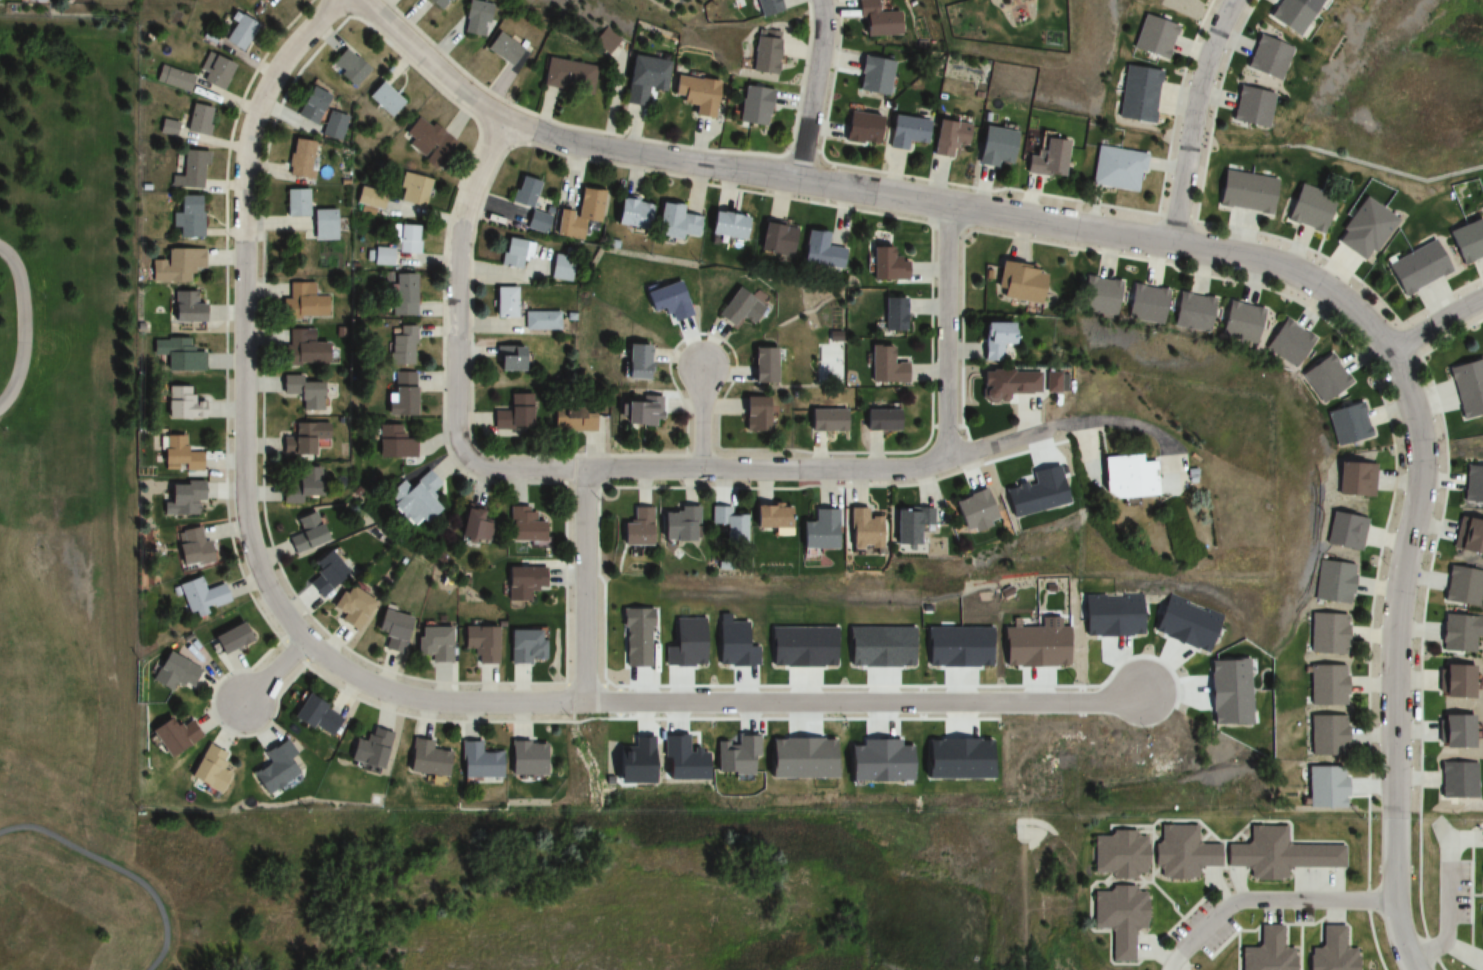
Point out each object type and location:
building: (36, 0)
building: (437, 4)
building: (764, 7)
building: (1291, 15)
building: (474, 19)
building: (874, 21)
building: (237, 33)
building: (1153, 38)
building: (502, 49)
building: (762, 54)
building: (1265, 59)
road: (431, 64)
building: (348, 68)
building: (212, 73)
building: (567, 77)
building: (872, 77)
building: (172, 79)
building: (642, 80)
road: (811, 89)
building: (693, 95)
building: (1137, 95)
building: (383, 100)
building: (310, 107)
building: (751, 107)
building: (1250, 108)
road: (1191, 118)
building: (197, 121)
building: (332, 126)
building: (167, 128)
building: (860, 130)
building: (905, 133)
building: (947, 138)
building: (428, 143)
building: (993, 148)
building: (299, 160)
building: (1045, 160)
building: (1116, 170)
building: (188, 171)
road: (785, 176)
building: (412, 190)
building: (524, 192)
building: (1245, 193)
building: (294, 203)
building: (1309, 209)
building: (631, 212)
building: (579, 214)
building: (186, 218)
building: (675, 222)
building: (726, 224)
building: (321, 225)
building: (1363, 230)
building: (774, 238)
building: (1466, 243)
building: (396, 245)
building: (819, 251)
building: (510, 252)
building: (885, 261)
building: (175, 266)
building: (1416, 269)
building: (1018, 282)
building: (401, 294)
building: (1101, 296)
building: (296, 301)
building: (667, 301)
building: (502, 302)
building: (1147, 303)
building: (183, 306)
building: (738, 308)
building: (1193, 312)
building: (891, 314)
building: (540, 320)
building: (1241, 322)
road: (26, 324)
road: (1436, 324)
road: (946, 330)
building: (990, 340)
building: (1289, 343)
building: (400, 346)
building: (303, 348)
building: (177, 355)
building: (507, 358)
building: (632, 360)
building: (762, 364)
building: (883, 366)
building: (1325, 378)
building: (1046, 383)
building: (1007, 384)
building: (1468, 387)
building: (400, 393)
building: (301, 394)
building: (182, 404)
park: (64, 408)
building: (639, 410)
building: (513, 413)
building: (754, 414)
building: (572, 419)
road: (701, 419)
building: (877, 419)
building: (824, 420)
building: (1349, 425)
road: (1136, 427)
road: (1022, 434)
building: (302, 438)
building: (392, 442)
building: (181, 454)
road: (532, 470)
building: (1123, 477)
building: (1354, 480)
road: (1421, 481)
building: (301, 483)
building: (1473, 484)
building: (180, 498)
building: (415, 498)
building: (969, 509)
building: (766, 516)
building: (473, 523)
building: (676, 523)
building: (726, 523)
building: (522, 525)
building: (899, 526)
building: (635, 528)
building: (859, 528)
building: (814, 530)
building: (1340, 530)
building: (304, 534)
building: (1469, 536)
building: (190, 547)
building: (323, 573)
building: (1332, 581)
building: (522, 582)
road: (585, 585)
building: (1463, 586)
building: (199, 595)
building: (351, 607)
building: (391, 630)
building: (1459, 632)
building: (1326, 633)
building: (226, 638)
building: (433, 643)
building: (479, 643)
building: (524, 646)
building: (173, 672)
road: (272, 672)
building: (1455, 681)
building: (1326, 685)
road: (377, 687)
building: (313, 716)
building: (1455, 731)
building: (1325, 735)
building: (172, 736)
building: (369, 748)
building: (422, 758)
building: (521, 759)
building: (475, 761)
building: (274, 767)
building: (207, 768)
building: (1456, 779)
building: (1181, 852)
building: (1119, 854)
building: (1279, 854)
road: (119, 869)
road: (1266, 899)
building: (1119, 917)
building: (1482, 931)
building: (1266, 952)
building: (1331, 952)

